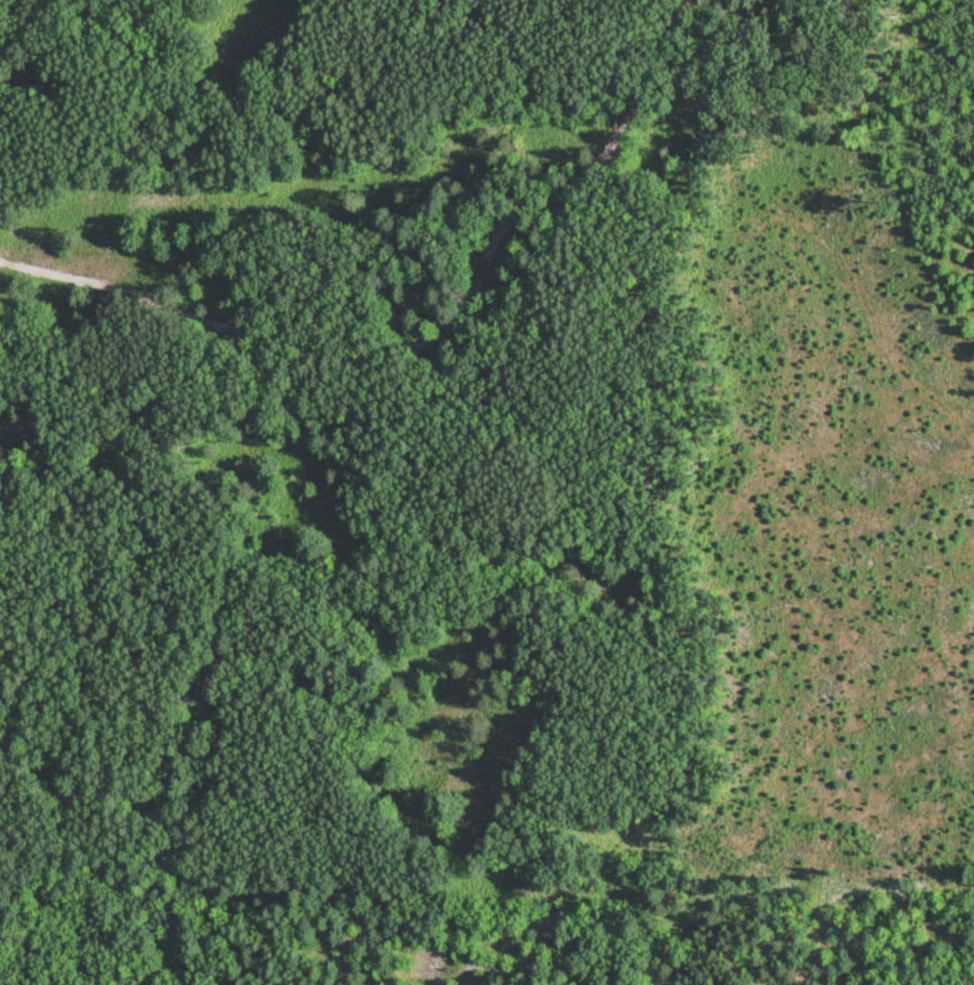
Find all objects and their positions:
road: (427, 340)

